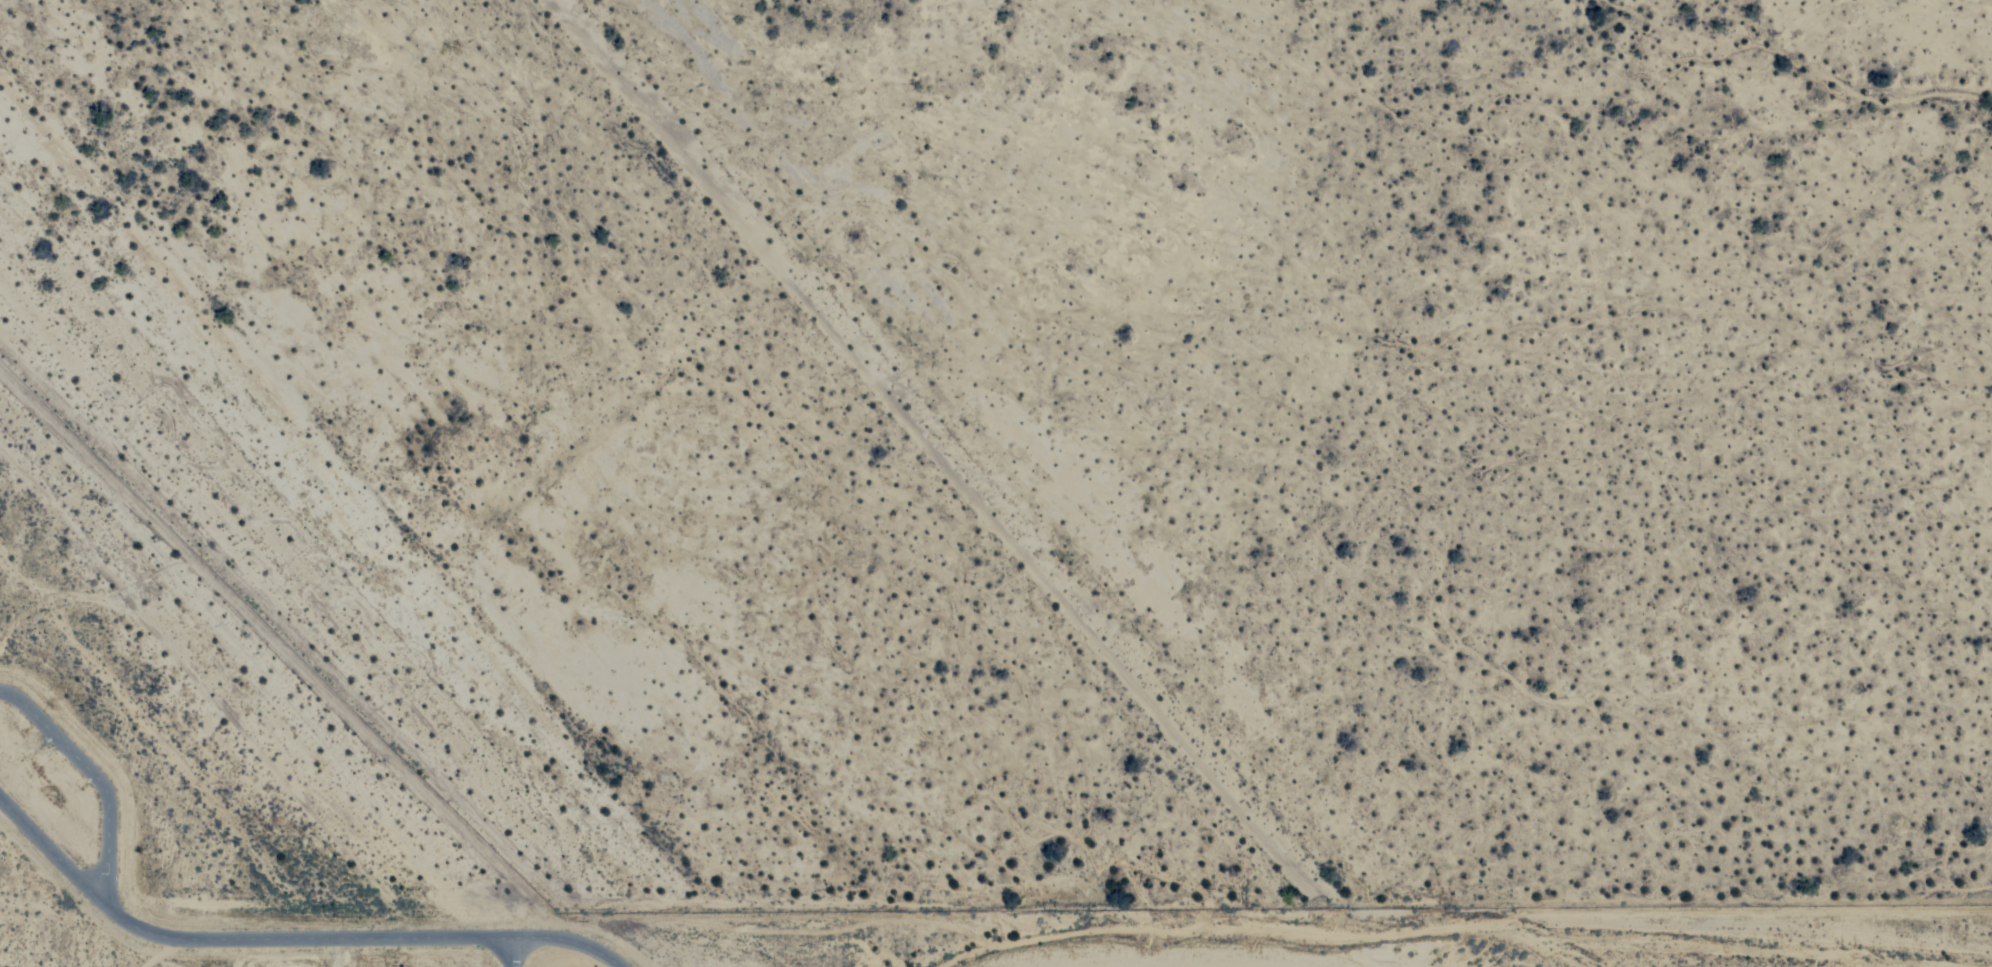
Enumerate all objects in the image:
road: (98, 779)
road: (96, 883)
road: (288, 937)
road: (500, 945)
road: (524, 945)
road: (512, 951)

